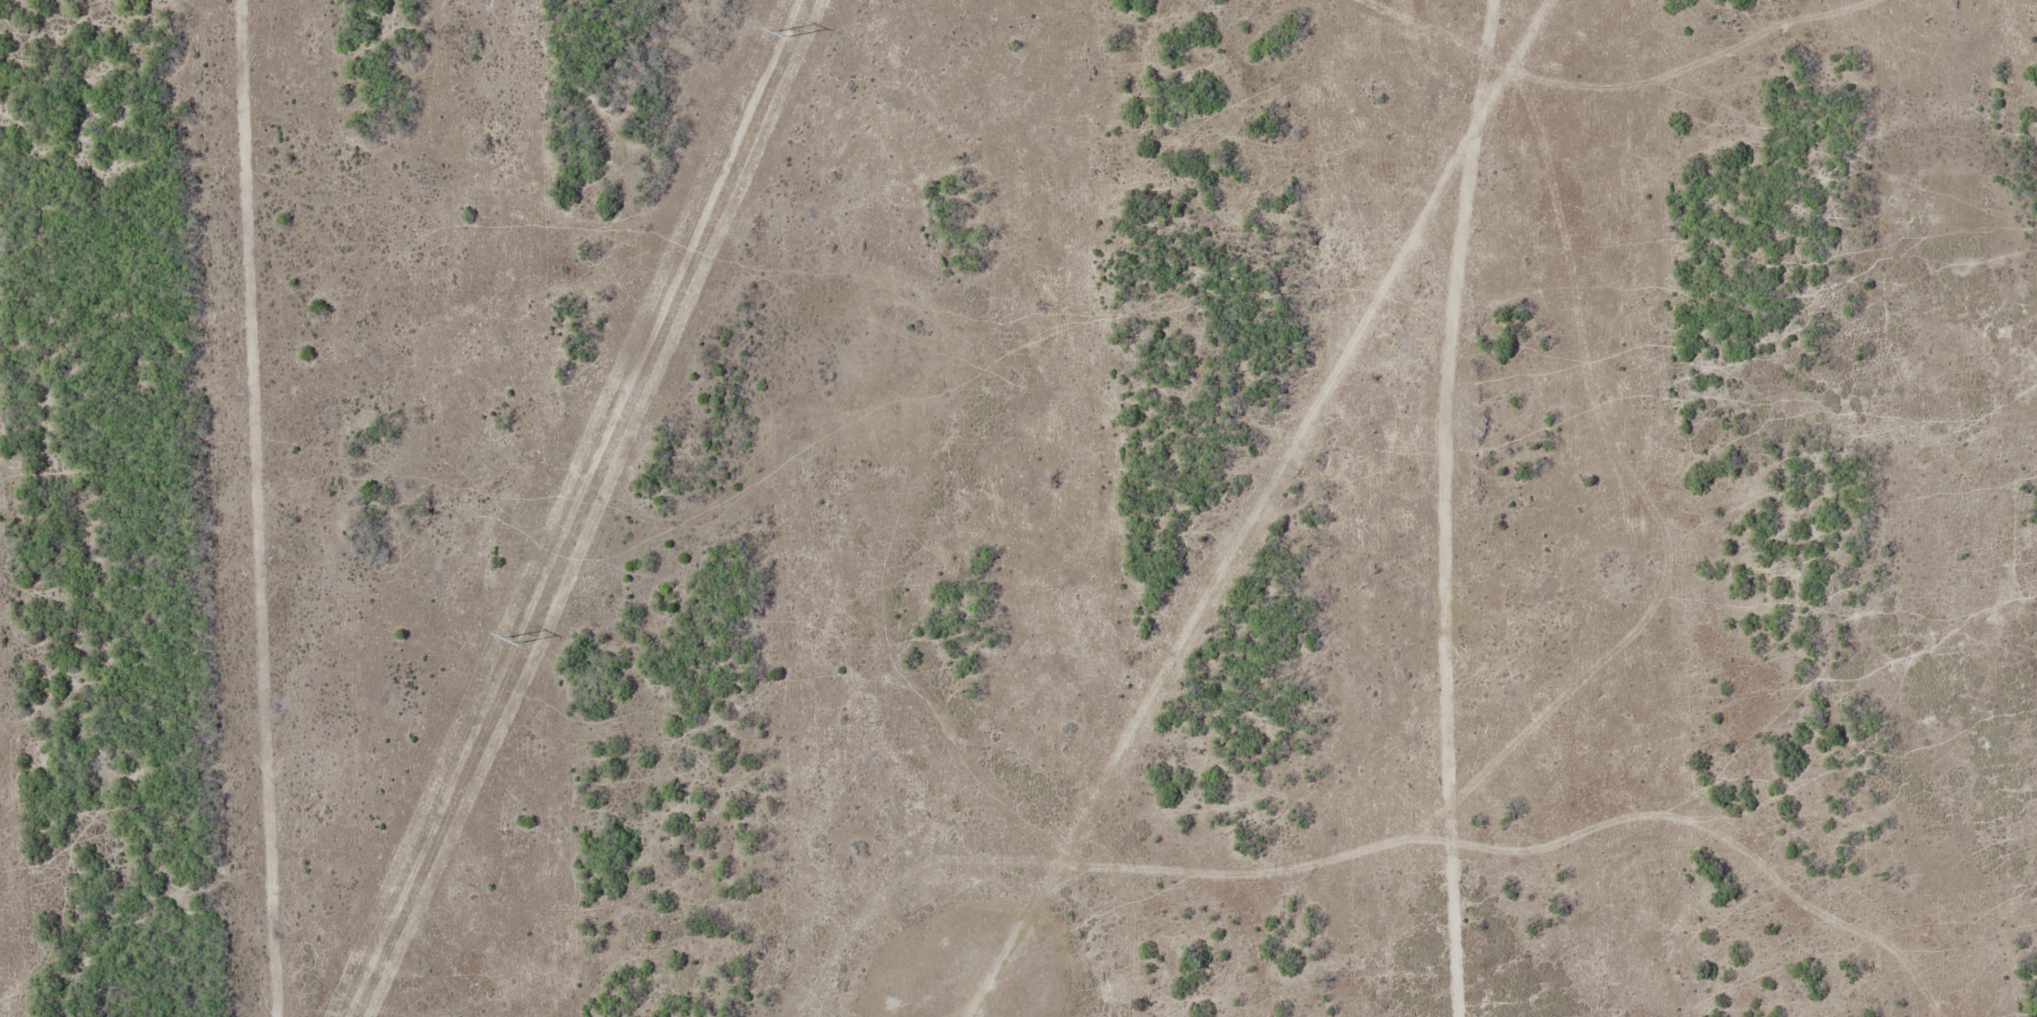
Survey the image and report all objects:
power tower: (787, 34)
power tower: (516, 641)

